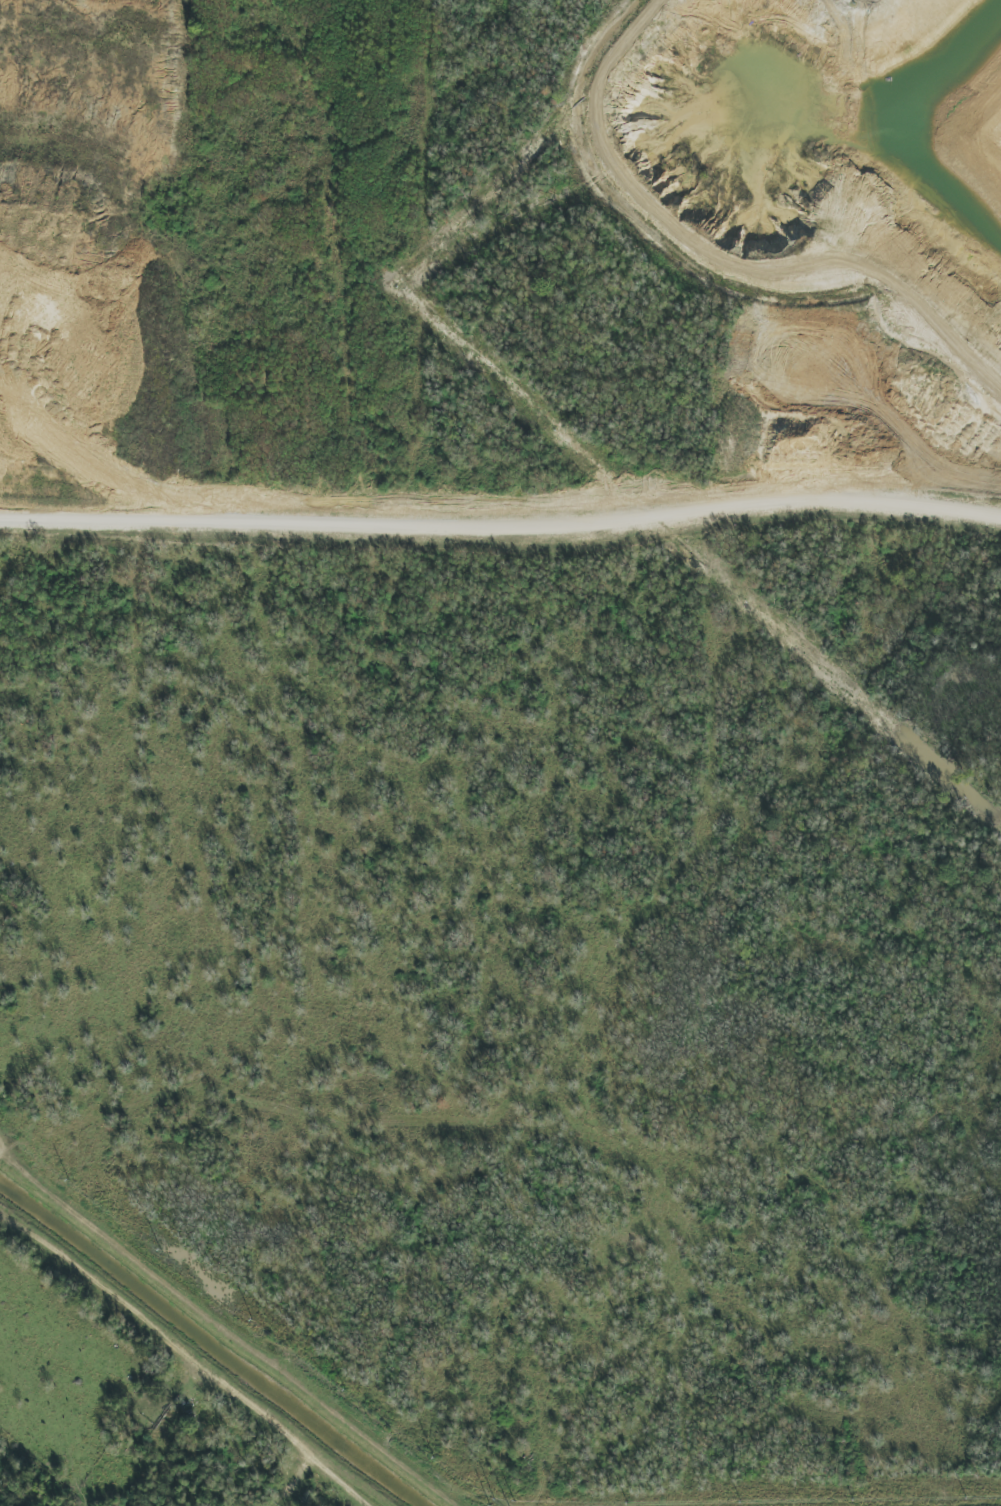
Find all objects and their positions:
road: (501, 529)

